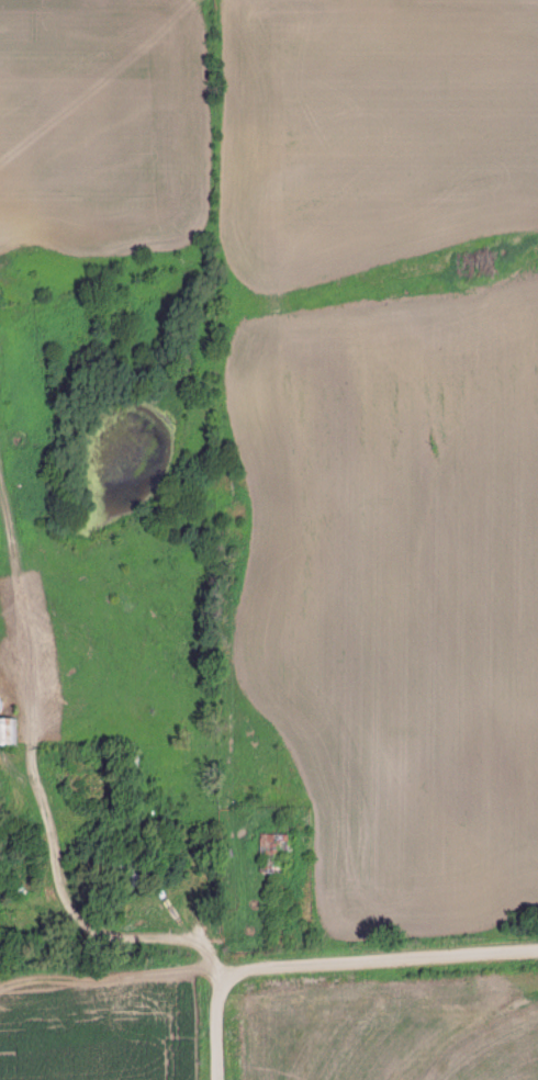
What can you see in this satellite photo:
building: (271, 853)
building: (128, 871)
road: (89, 908)
road: (327, 961)

